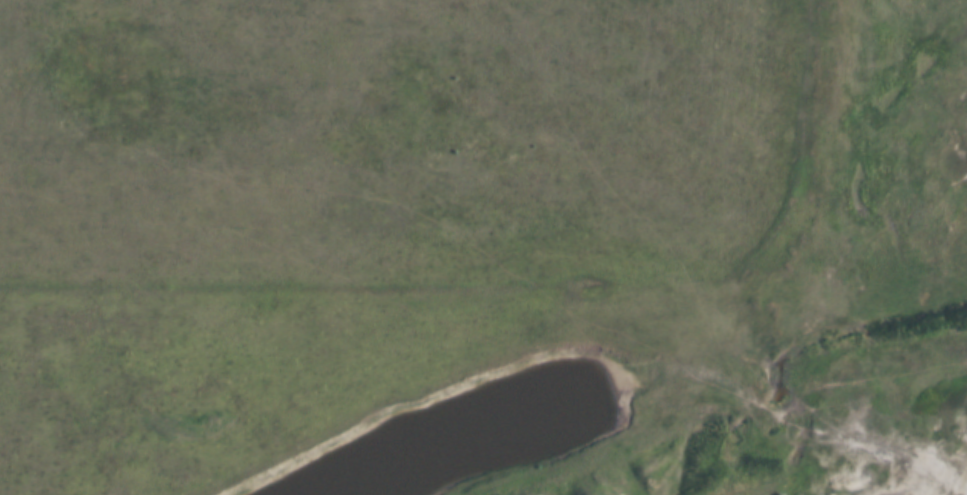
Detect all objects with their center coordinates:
quarry: (796, 438)

